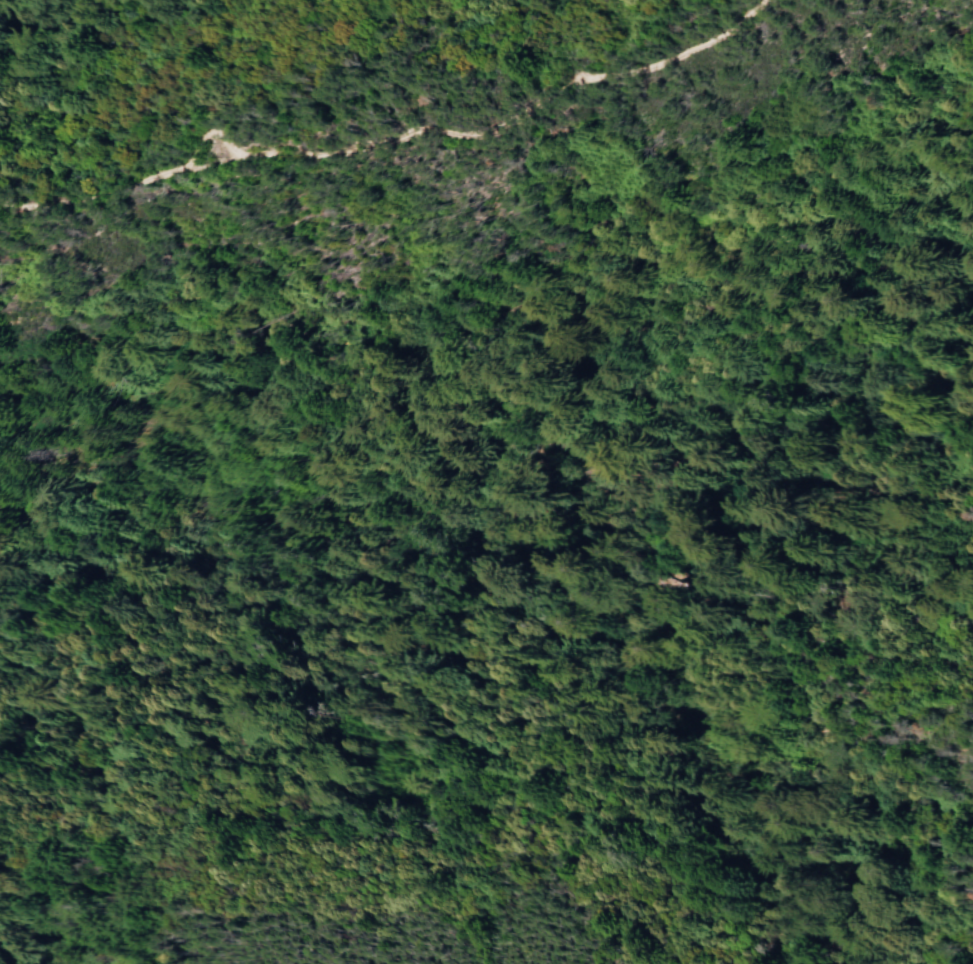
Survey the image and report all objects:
road: (469, 133)
road: (85, 198)
road: (681, 553)

